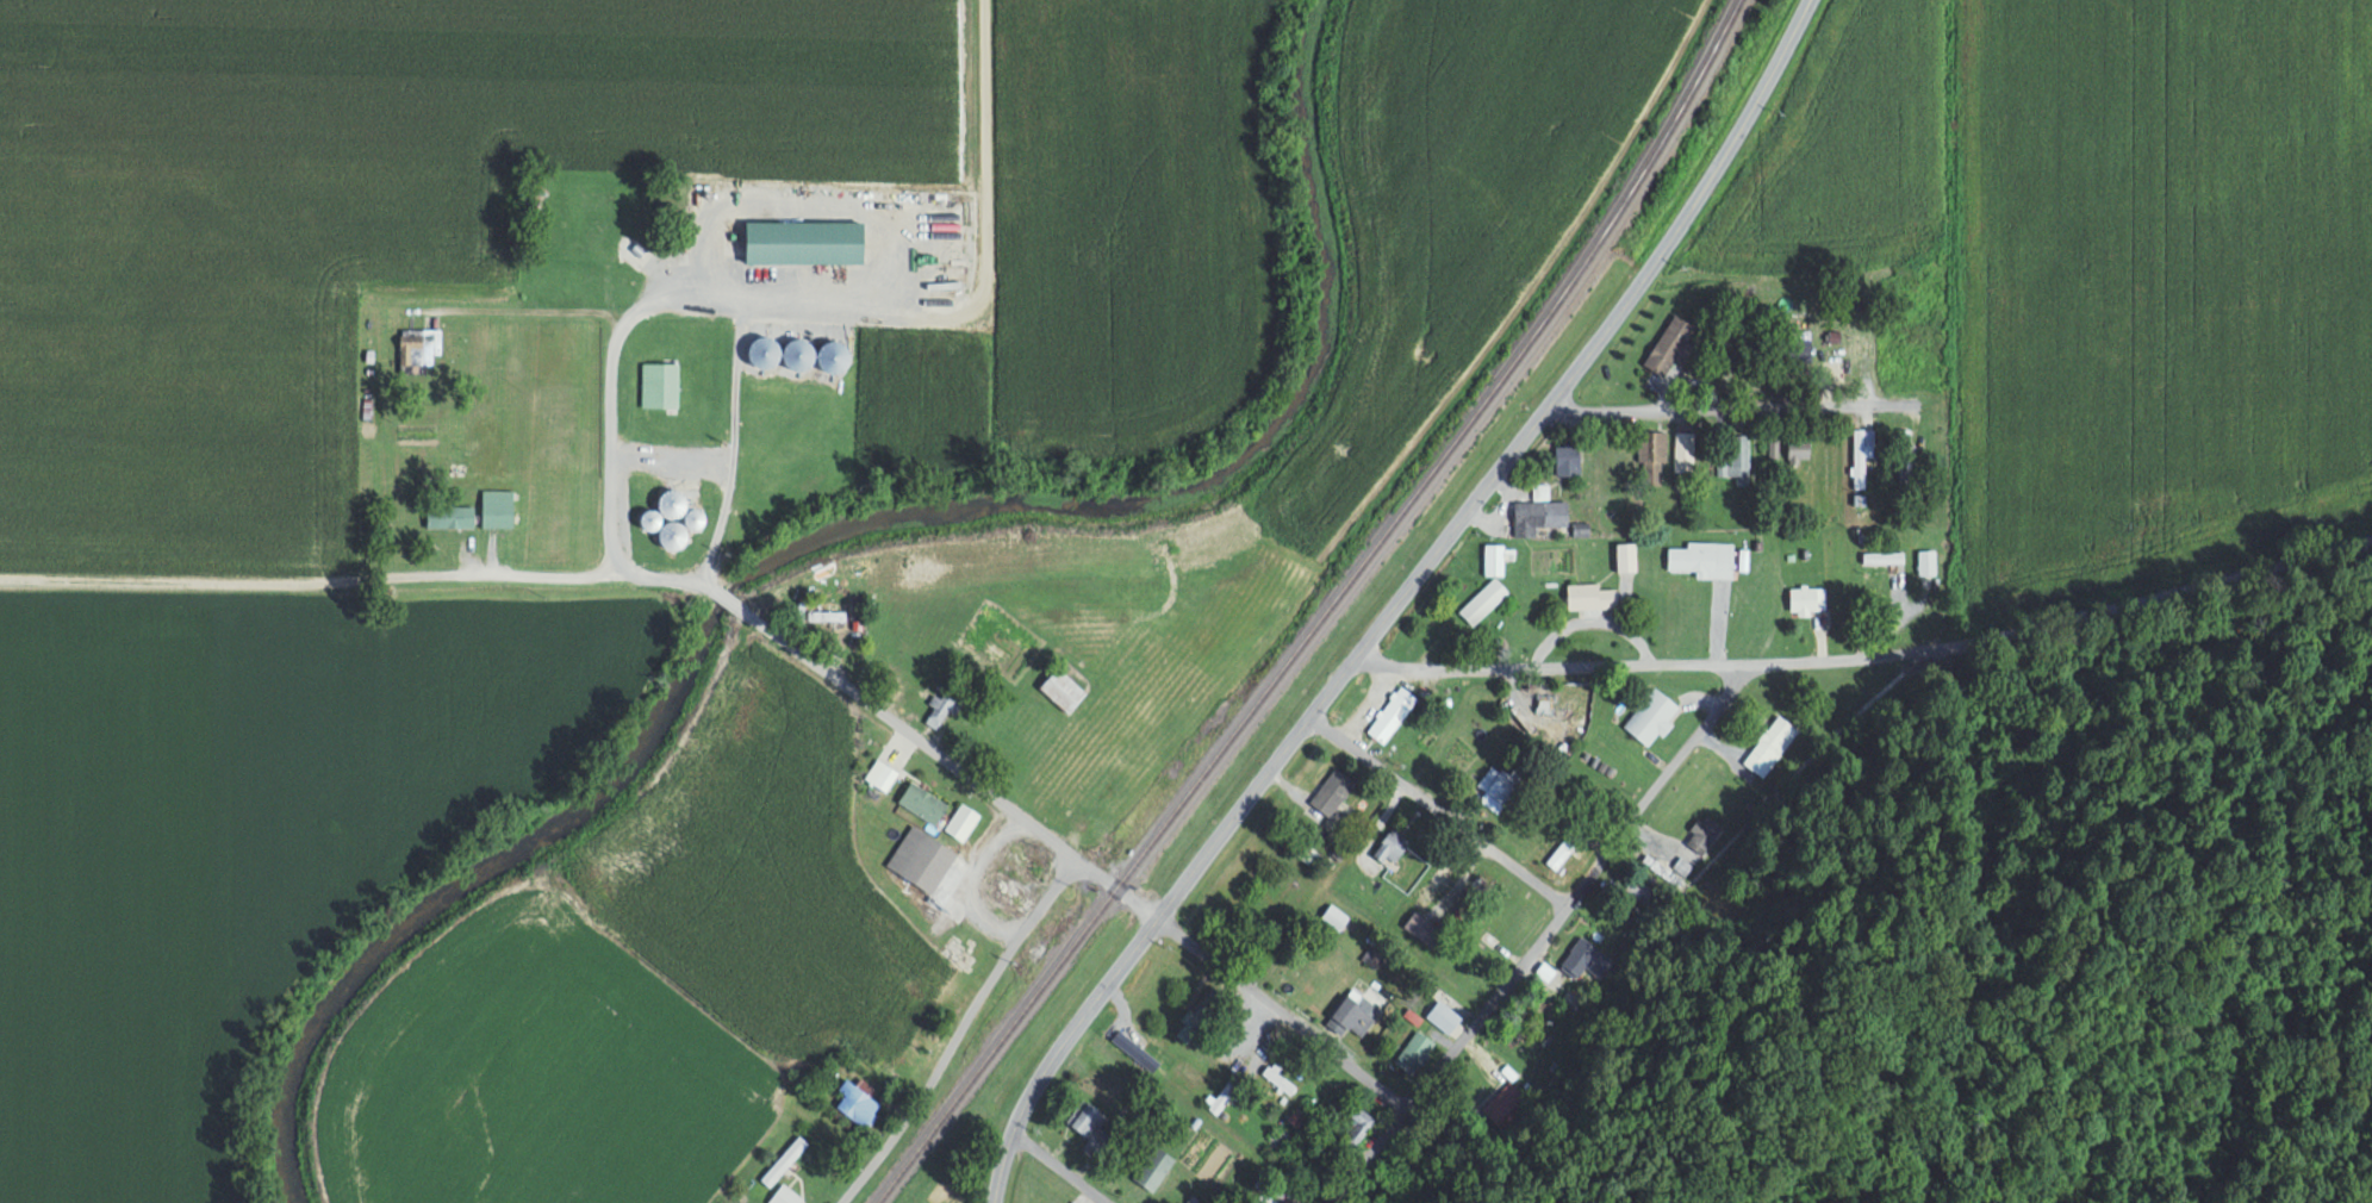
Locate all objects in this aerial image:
road: (1686, 211)
building: (803, 242)
building: (602, 243)
road: (826, 310)
road: (533, 311)
building: (1878, 343)
building: (1671, 345)
building: (417, 350)
building: (762, 353)
building: (799, 354)
building: (834, 355)
building: (659, 384)
road: (1712, 409)
building: (1799, 448)
building: (764, 449)
building: (1685, 450)
building: (1861, 453)
building: (1904, 454)
building: (1652, 456)
building: (1736, 456)
building: (1568, 459)
building: (674, 484)
building: (757, 503)
building: (497, 507)
building: (1539, 515)
building: (449, 516)
building: (692, 518)
building: (672, 534)
building: (1626, 556)
building: (1495, 559)
building: (1704, 559)
building: (1926, 562)
road: (587, 576)
building: (1590, 596)
building: (1807, 599)
building: (1483, 600)
railway: (1322, 612)
building: (827, 617)
road: (1868, 660)
building: (1062, 688)
building: (1559, 706)
building: (1393, 713)
building: (1652, 716)
building: (1430, 736)
building: (1770, 743)
road: (940, 755)
building: (880, 774)
building: (1496, 787)
building: (1332, 791)
road: (1246, 794)
building: (923, 803)
road: (1436, 809)
building: (961, 821)
building: (1390, 846)
building: (1561, 852)
building: (1308, 853)
building: (921, 859)
building: (1036, 868)
building: (1432, 885)
building: (1638, 889)
building: (1334, 916)
building: (1422, 929)
road: (1540, 937)
building: (1579, 960)
road: (1283, 1009)
building: (1446, 1011)
building: (1353, 1012)
building: (1201, 1016)
road: (958, 1030)
building: (1414, 1052)
building: (1278, 1078)
building: (1226, 1095)
building: (855, 1099)
building: (1087, 1117)
building: (1355, 1126)
building: (785, 1154)
building: (1153, 1166)
road: (1059, 1167)
building: (784, 1195)
building: (1264, 1199)

